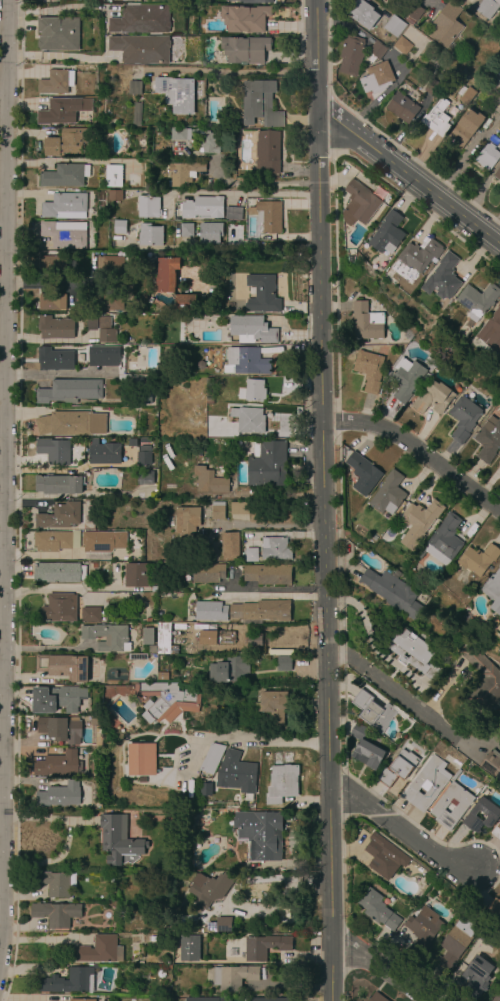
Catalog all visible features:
building: (51, 0)
building: (123, 0)
road: (471, 0)
building: (251, 1)
building: (488, 7)
building: (414, 12)
building: (363, 14)
building: (141, 19)
building: (245, 19)
building: (410, 21)
building: (395, 26)
building: (446, 26)
building: (57, 33)
building: (140, 49)
building: (404, 49)
building: (245, 50)
building: (378, 50)
road: (53, 55)
building: (351, 56)
building: (499, 62)
road: (230, 73)
building: (377, 79)
building: (56, 82)
building: (135, 87)
building: (433, 88)
building: (461, 90)
building: (176, 93)
building: (468, 96)
building: (260, 104)
building: (403, 108)
building: (62, 110)
building: (137, 114)
building: (437, 118)
building: (465, 129)
building: (180, 134)
building: (206, 141)
building: (68, 143)
building: (267, 151)
road: (468, 153)
building: (488, 156)
building: (184, 173)
road: (410, 174)
building: (497, 174)
building: (64, 175)
building: (113, 175)
building: (133, 179)
road: (234, 194)
building: (115, 195)
building: (359, 204)
building: (65, 206)
building: (148, 207)
building: (199, 208)
building: (232, 213)
building: (266, 215)
building: (119, 227)
building: (186, 230)
building: (210, 233)
building: (387, 233)
building: (64, 234)
building: (149, 235)
road: (218, 249)
building: (420, 256)
building: (351, 257)
building: (52, 264)
building: (110, 265)
building: (166, 274)
building: (443, 278)
road: (80, 280)
road: (42, 283)
building: (262, 294)
building: (51, 301)
building: (478, 301)
building: (110, 302)
building: (185, 303)
building: (196, 318)
building: (495, 321)
building: (92, 323)
building: (366, 323)
building: (55, 327)
building: (252, 329)
building: (106, 335)
building: (409, 336)
building: (103, 354)
building: (54, 359)
building: (245, 361)
building: (200, 365)
building: (455, 367)
building: (369, 369)
road: (61, 375)
building: (406, 378)
building: (209, 381)
building: (255, 390)
building: (69, 391)
building: (209, 393)
building: (143, 397)
building: (432, 397)
building: (463, 418)
building: (249, 419)
building: (70, 423)
building: (144, 440)
building: (488, 440)
building: (131, 442)
building: (54, 450)
building: (104, 452)
road: (417, 455)
building: (143, 458)
road: (3, 463)
building: (267, 463)
road: (62, 470)
building: (363, 475)
building: (144, 477)
building: (209, 481)
building: (58, 484)
building: (388, 495)
road: (325, 500)
building: (239, 508)
building: (218, 511)
building: (206, 513)
building: (60, 515)
building: (420, 518)
building: (187, 521)
road: (264, 525)
building: (444, 539)
building: (56, 541)
building: (102, 544)
building: (230, 545)
building: (279, 546)
road: (44, 555)
building: (251, 555)
road: (98, 556)
building: (479, 560)
building: (92, 565)
building: (59, 572)
building: (208, 573)
building: (135, 574)
building: (268, 574)
road: (67, 589)
building: (493, 591)
building: (391, 592)
road: (270, 595)
building: (59, 607)
building: (210, 611)
building: (260, 611)
building: (160, 612)
building: (90, 614)
building: (148, 636)
building: (217, 636)
building: (107, 637)
building: (164, 639)
building: (251, 639)
building: (152, 649)
road: (49, 650)
building: (412, 652)
building: (137, 657)
building: (283, 663)
building: (63, 666)
building: (230, 669)
building: (162, 676)
building: (482, 682)
road: (380, 686)
building: (106, 691)
building: (55, 699)
building: (166, 701)
building: (274, 706)
building: (374, 712)
building: (94, 720)
building: (60, 728)
road: (463, 737)
building: (97, 739)
road: (264, 740)
building: (366, 748)
building: (211, 758)
building: (140, 759)
building: (58, 764)
building: (493, 764)
building: (397, 768)
building: (236, 773)
building: (282, 783)
building: (425, 784)
building: (206, 789)
building: (59, 795)
building: (439, 808)
building: (472, 819)
building: (496, 831)
road: (405, 833)
building: (260, 834)
building: (361, 838)
building: (119, 840)
building: (381, 860)
building: (55, 882)
building: (201, 891)
building: (495, 906)
building: (377, 909)
building: (58, 914)
building: (223, 925)
building: (423, 929)
building: (488, 937)
building: (152, 939)
building: (456, 941)
building: (265, 946)
building: (189, 948)
building: (100, 949)
road: (371, 970)
building: (161, 974)
building: (234, 976)
building: (477, 977)
building: (68, 981)
building: (497, 997)
building: (376, 998)
building: (107, 999)
building: (206, 999)
building: (272, 999)
building: (82, 1000)

